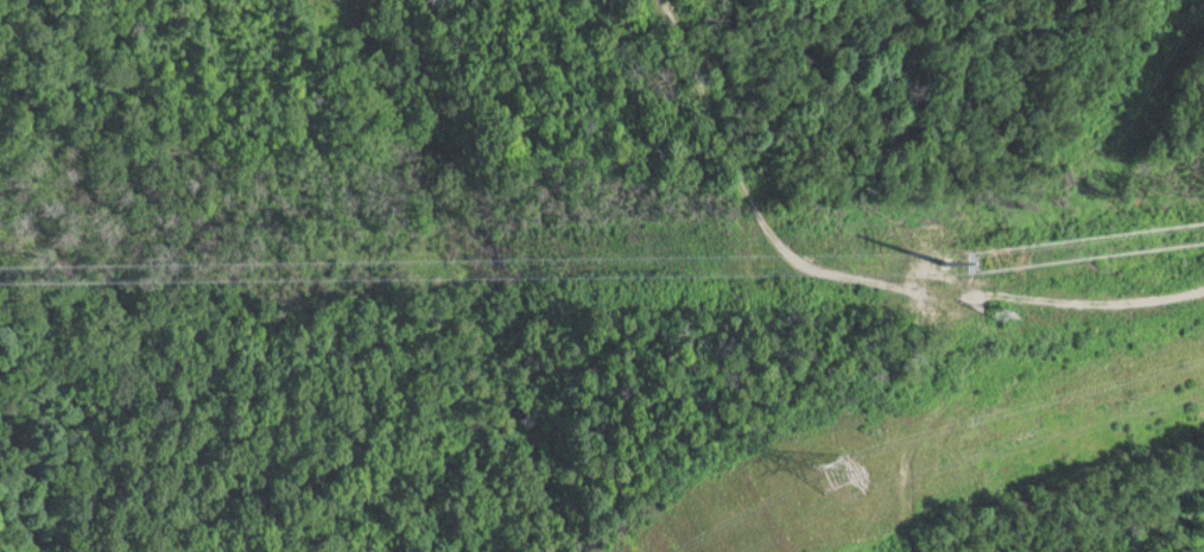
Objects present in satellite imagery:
power tower: (971, 242)
power tower: (848, 433)

